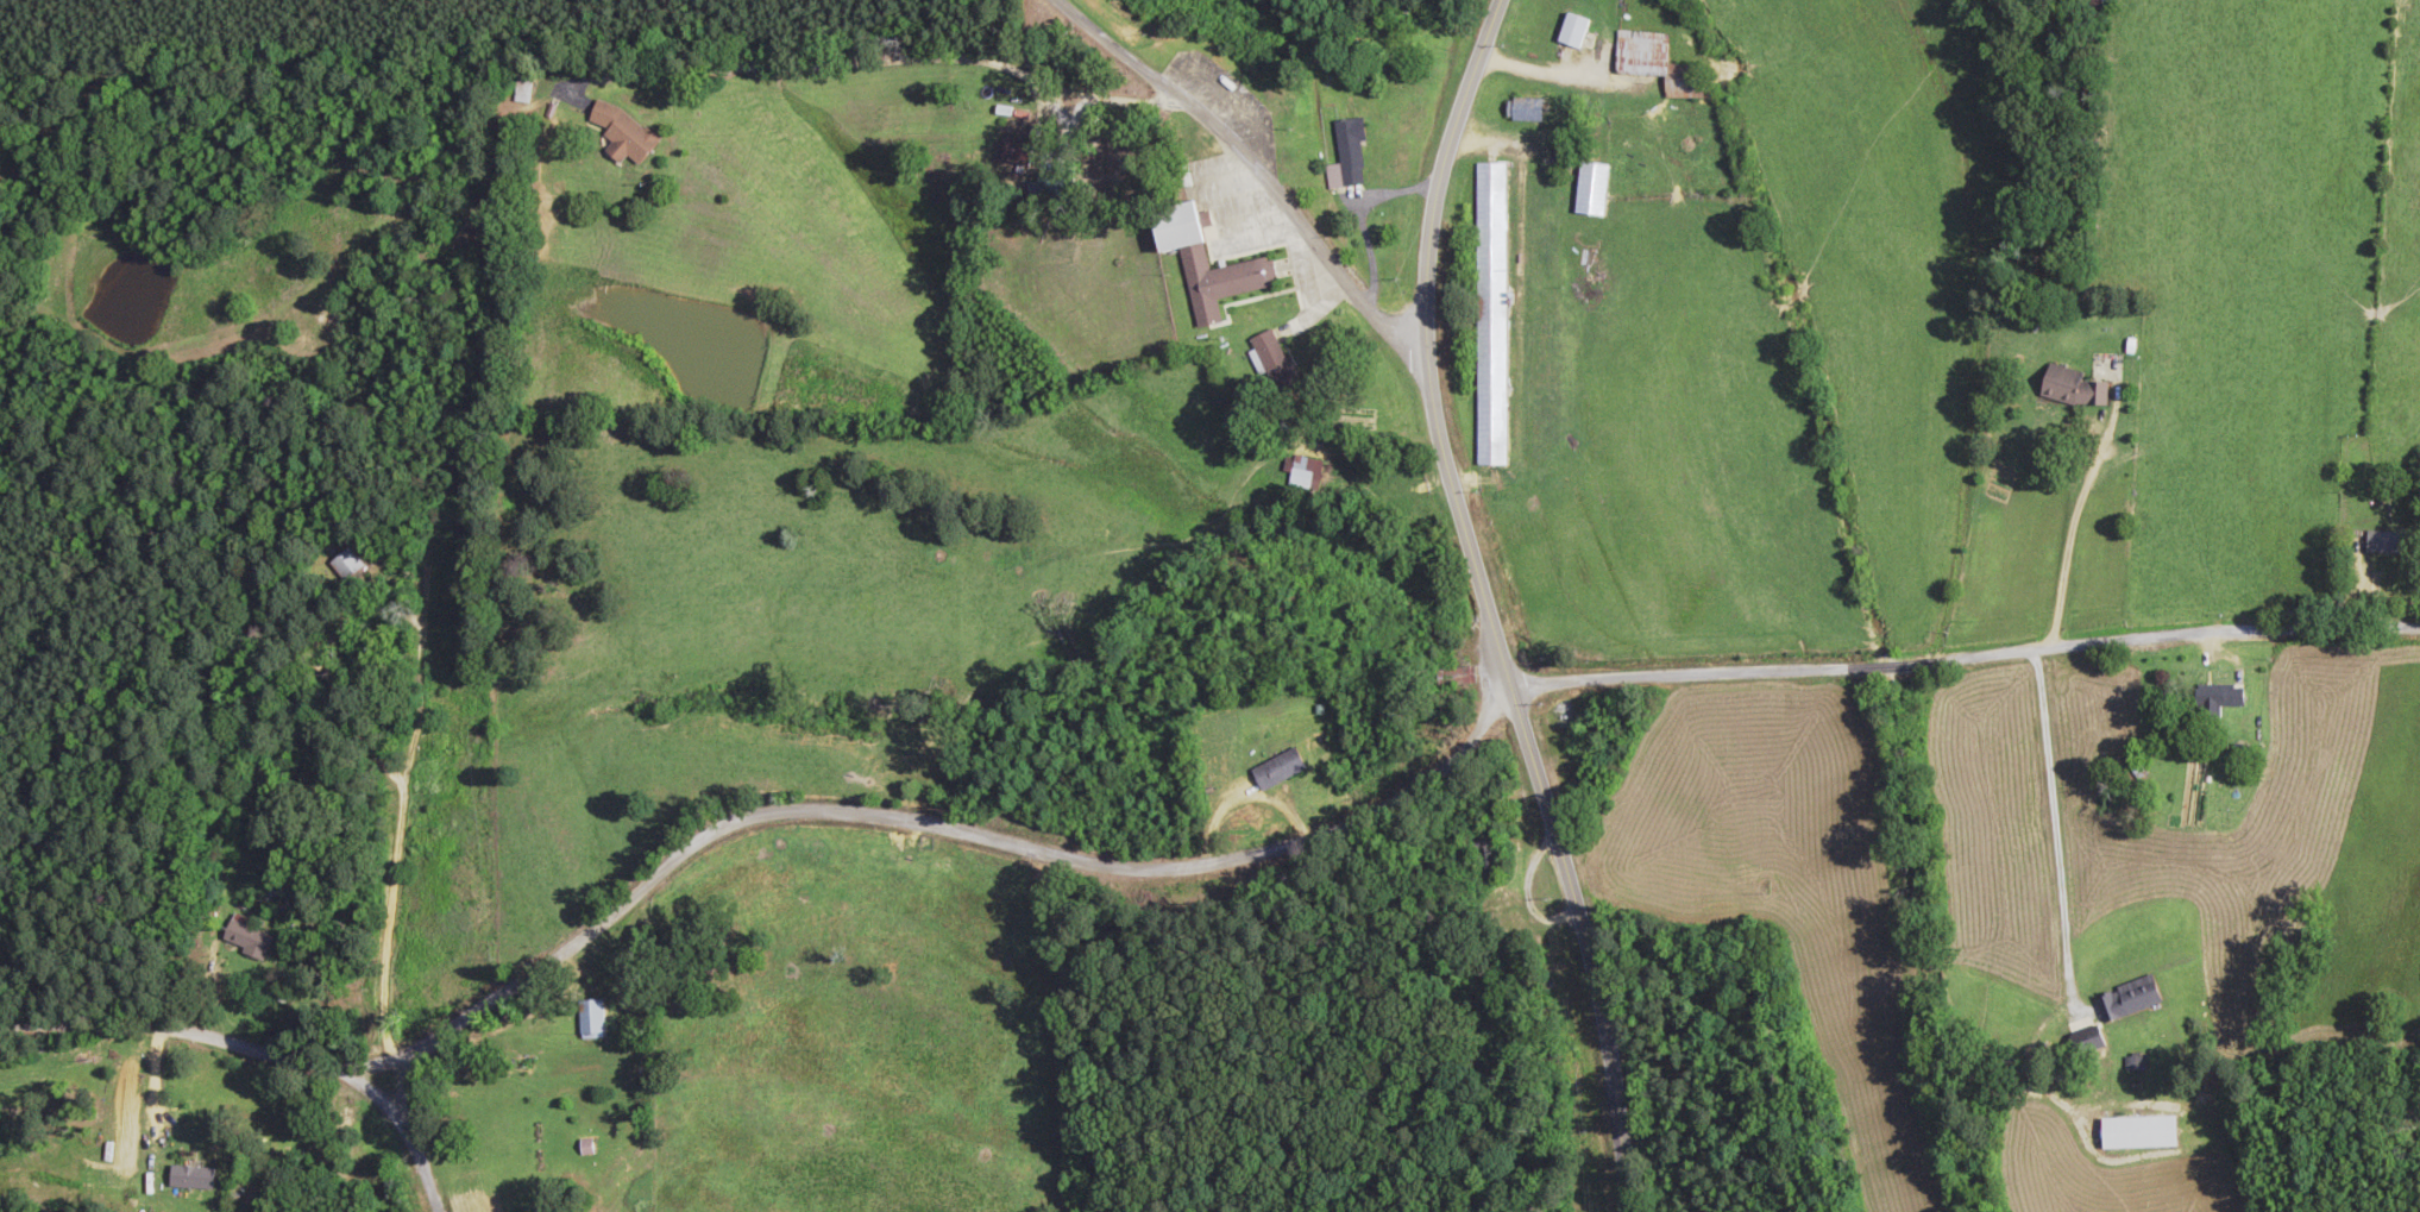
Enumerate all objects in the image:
building: (1572, 31)
building: (1657, 64)
building: (521, 87)
building: (624, 138)
building: (1346, 155)
road: (1239, 178)
building: (1590, 187)
building: (1202, 264)
building: (1542, 313)
building: (1489, 315)
building: (1269, 357)
building: (2074, 389)
building: (1303, 476)
building: (2387, 544)
building: (344, 564)
road: (1488, 610)
building: (2215, 699)
building: (1276, 771)
road: (1394, 823)
road: (243, 868)
building: (245, 940)
building: (2127, 999)
building: (589, 1018)
road: (196, 1061)
building: (2135, 1065)
road: (404, 1143)
building: (585, 1148)
road: (1961, 1158)
building: (189, 1176)

